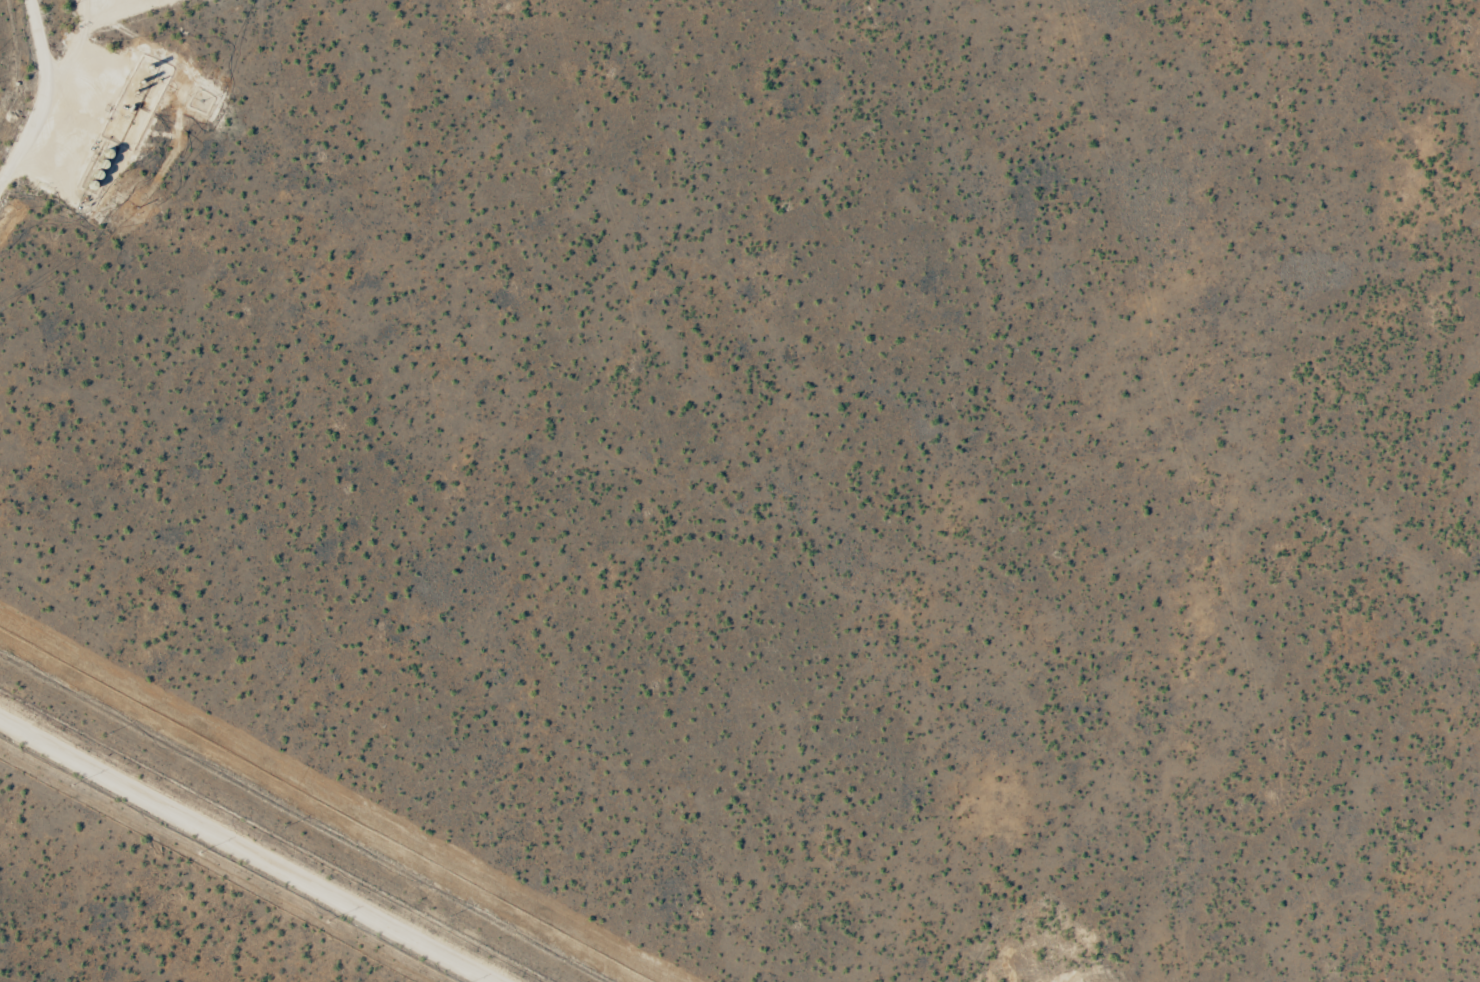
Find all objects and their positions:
road: (24, 972)

